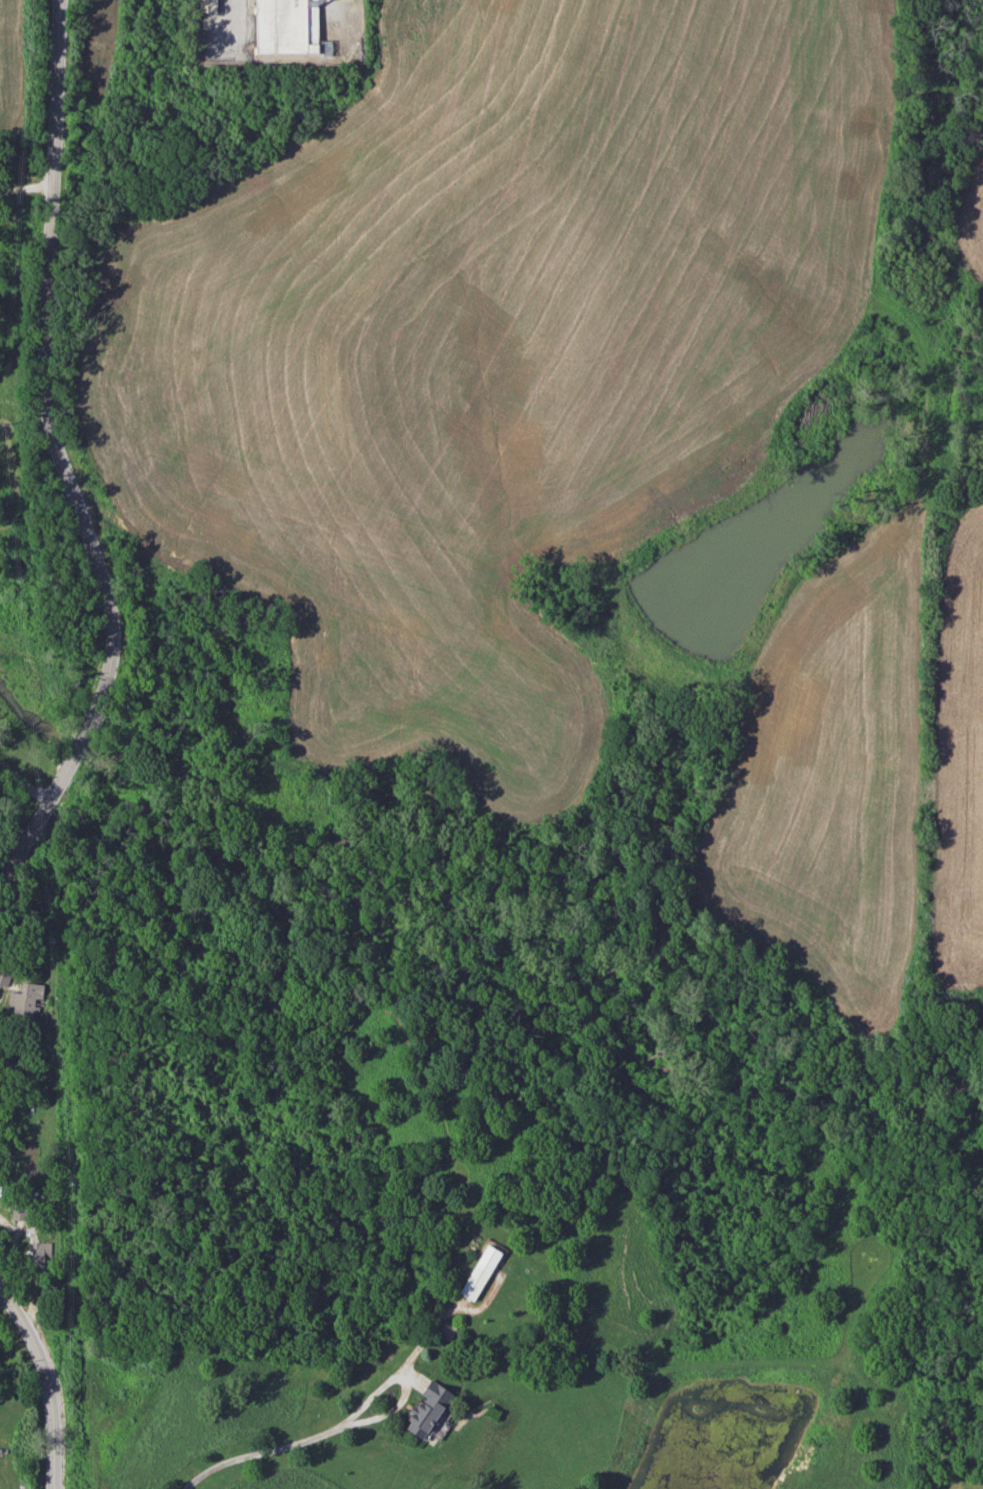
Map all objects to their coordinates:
building: (207, 5)
building: (285, 26)
road: (25, 187)
road: (68, 459)
road: (26, 782)
building: (4, 975)
building: (25, 995)
building: (41, 1251)
road: (16, 1269)
building: (479, 1272)
road: (406, 1375)
road: (51, 1381)
building: (426, 1408)
road: (255, 1448)

